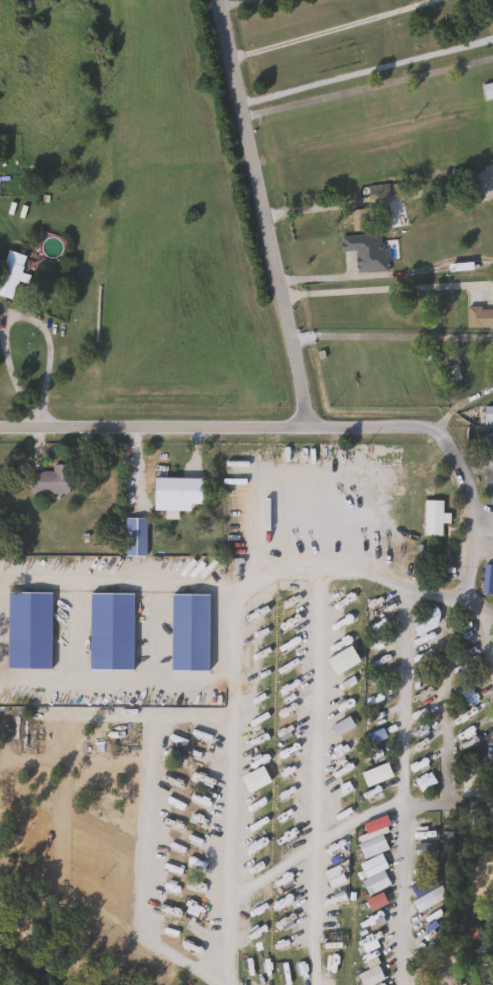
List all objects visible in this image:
road: (231, 5)
road: (324, 29)
road: (364, 68)
road: (366, 87)
building: (492, 168)
road: (375, 200)
road: (265, 214)
building: (358, 219)
building: (364, 250)
building: (10, 268)
road: (388, 282)
road: (10, 317)
building: (480, 318)
road: (392, 336)
road: (459, 404)
building: (488, 416)
road: (343, 430)
building: (487, 443)
road: (479, 467)
building: (48, 481)
building: (172, 502)
building: (431, 518)
road: (481, 520)
building: (133, 537)
building: (487, 579)
road: (169, 597)
building: (352, 597)
building: (376, 607)
road: (486, 614)
building: (460, 673)
building: (95, 699)
road: (443, 700)
building: (372, 756)
building: (422, 780)
road: (492, 781)
road: (242, 783)
building: (471, 783)
road: (401, 788)
road: (447, 804)
building: (372, 809)
building: (372, 830)
road: (310, 837)
building: (372, 874)
building: (427, 898)
building: (368, 976)
building: (480, 980)

